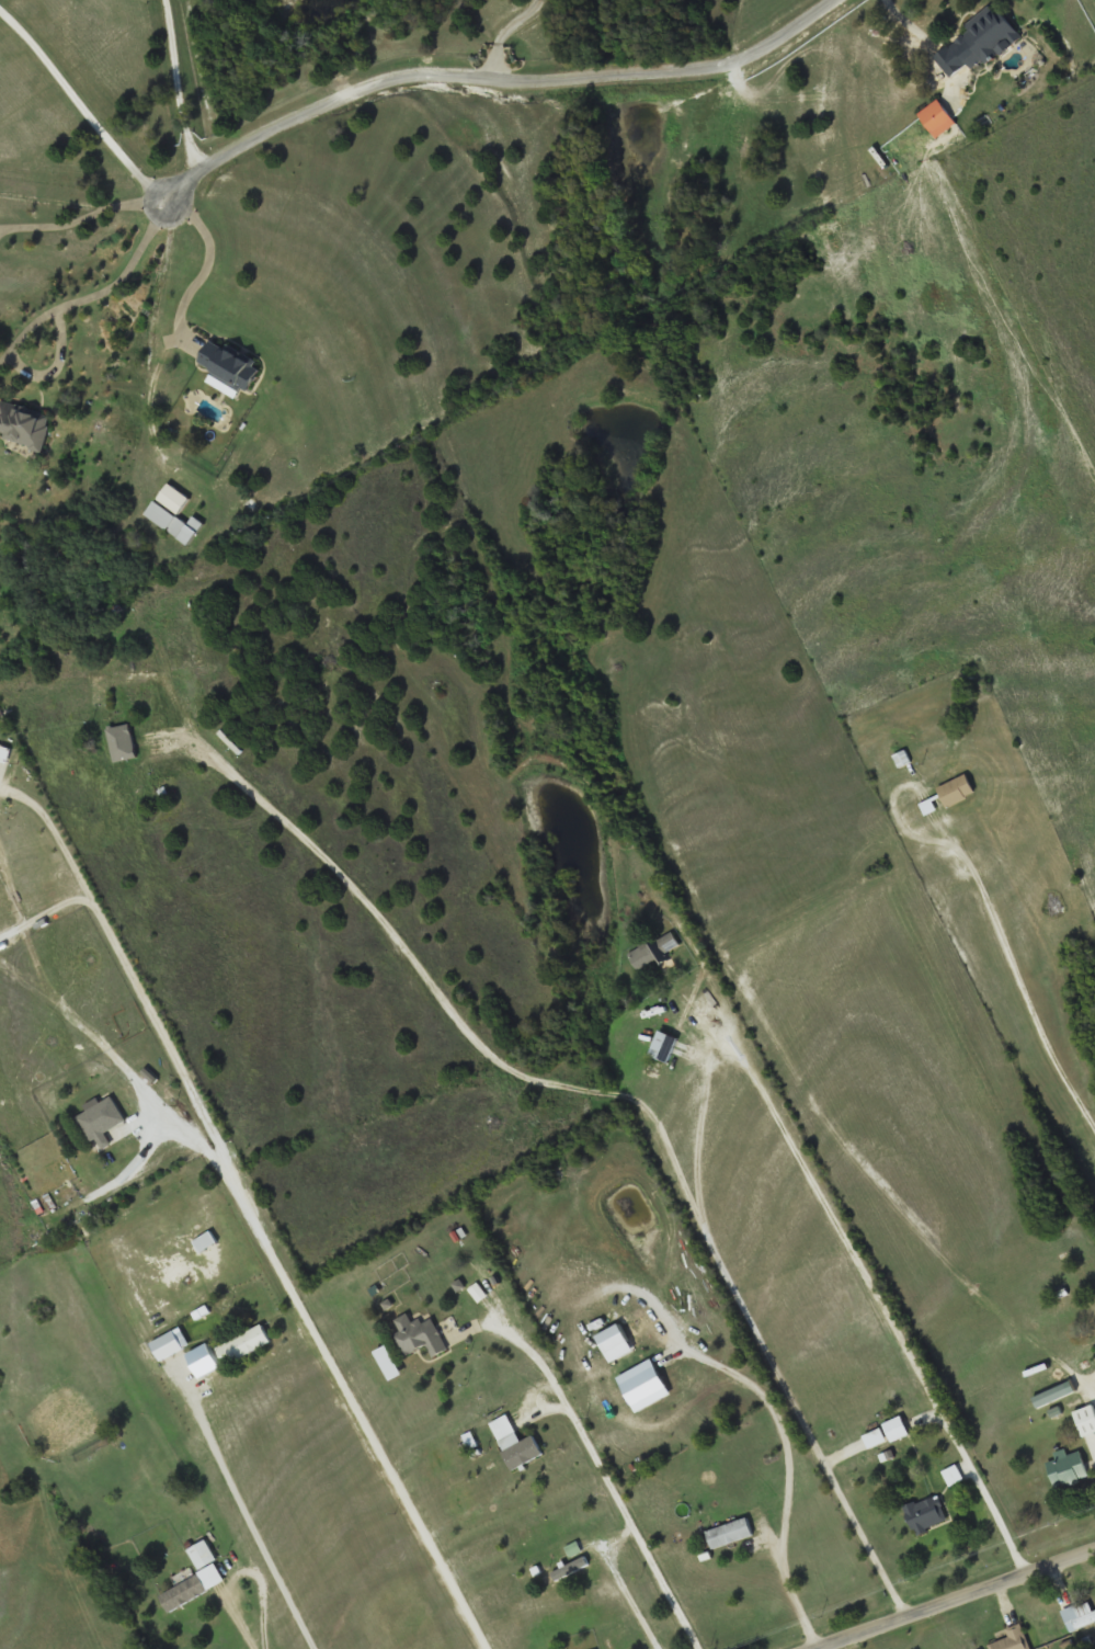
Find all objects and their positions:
building: (990, 35)
road: (488, 72)
road: (85, 111)
building: (940, 117)
road: (99, 293)
building: (230, 364)
road: (54, 366)
building: (23, 423)
building: (174, 513)
building: (101, 691)
building: (0, 713)
building: (901, 758)
building: (957, 789)
building: (652, 952)
road: (1065, 1008)
building: (665, 1046)
road: (632, 1101)
building: (102, 1118)
building: (1093, 1332)
building: (419, 1335)
building: (244, 1343)
building: (168, 1345)
building: (206, 1355)
road: (1094, 1385)
building: (1085, 1420)
building: (887, 1432)
building: (516, 1442)
building: (1068, 1467)
building: (926, 1513)
road: (626, 1517)
building: (729, 1533)
building: (197, 1578)
road: (960, 1596)
building: (1079, 1615)
building: (1013, 1639)

